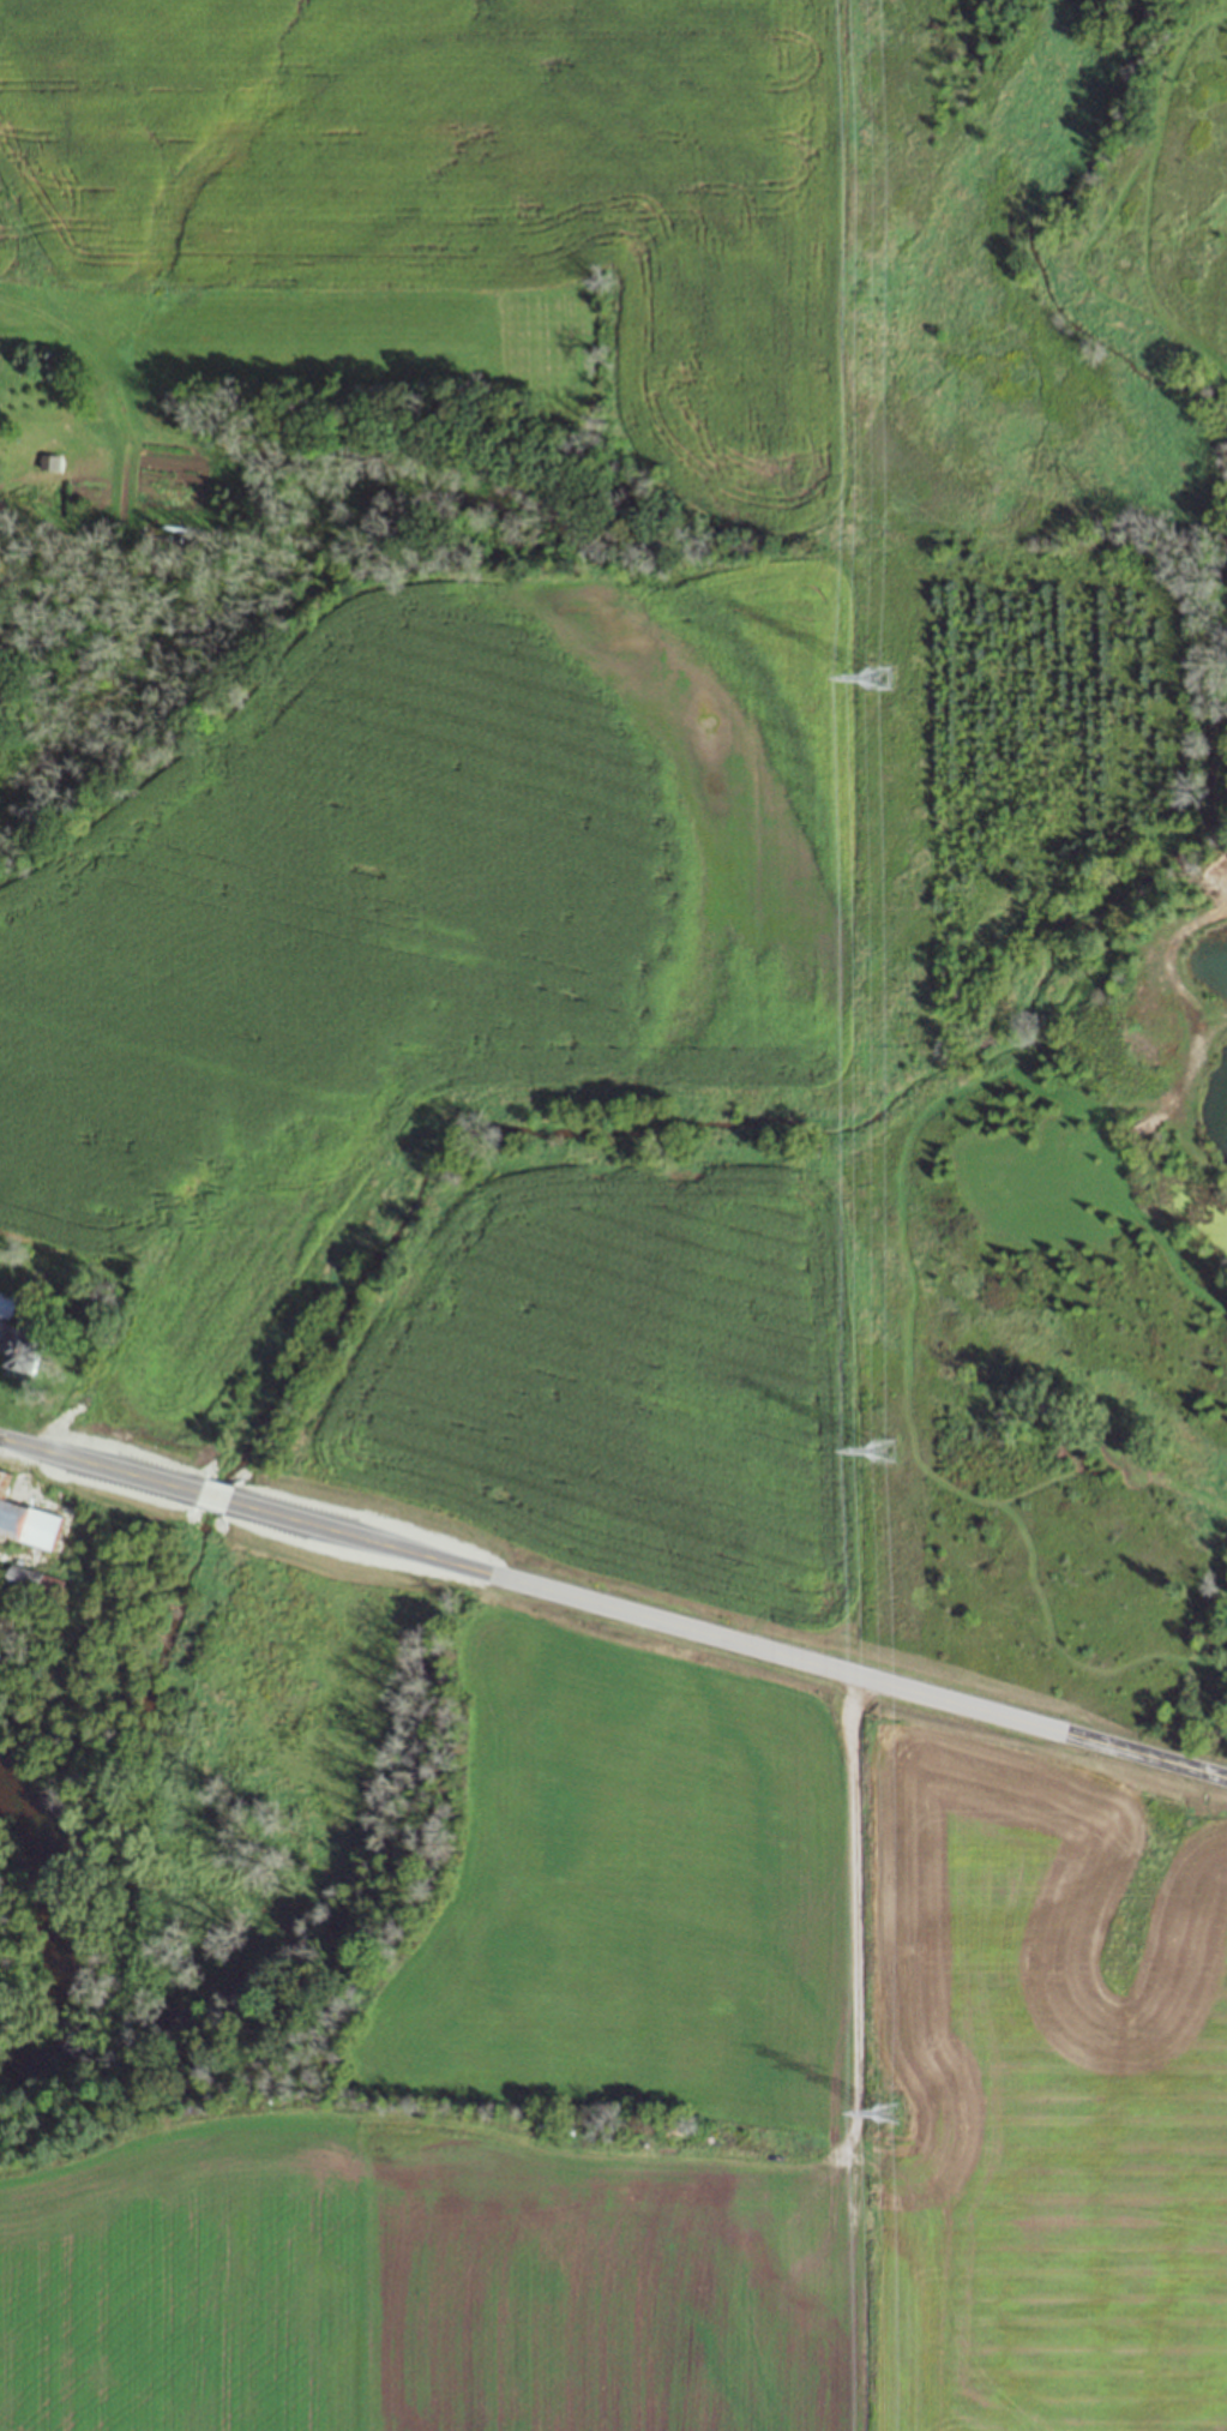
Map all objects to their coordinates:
power tower: (877, 676)
building: (22, 1346)
power tower: (882, 1447)
building: (0, 1473)
building: (28, 1524)
building: (32, 1580)
road: (613, 1608)
building: (4, 1650)
river: (49, 1963)
power tower: (885, 2113)

